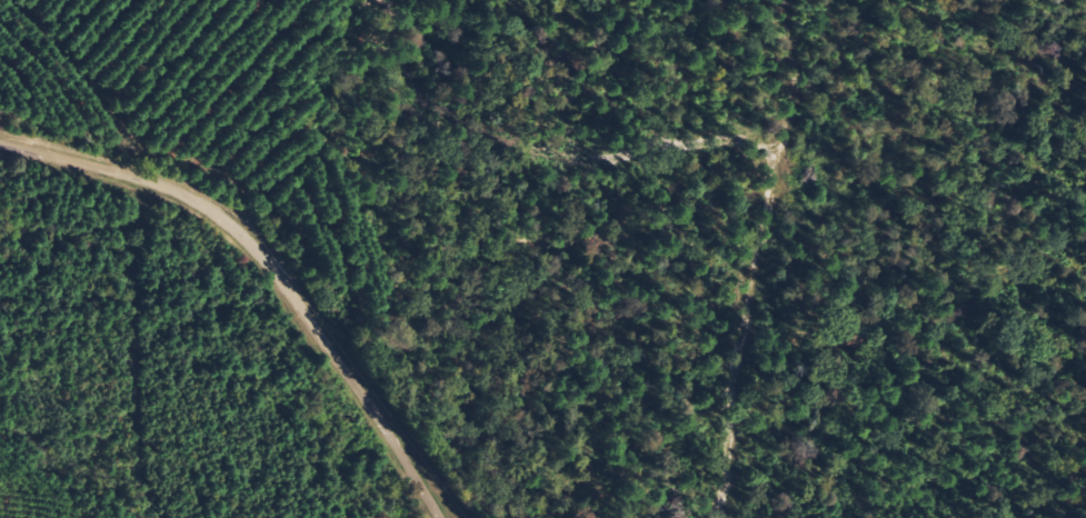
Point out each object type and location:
road: (81, 83)
road: (270, 266)

